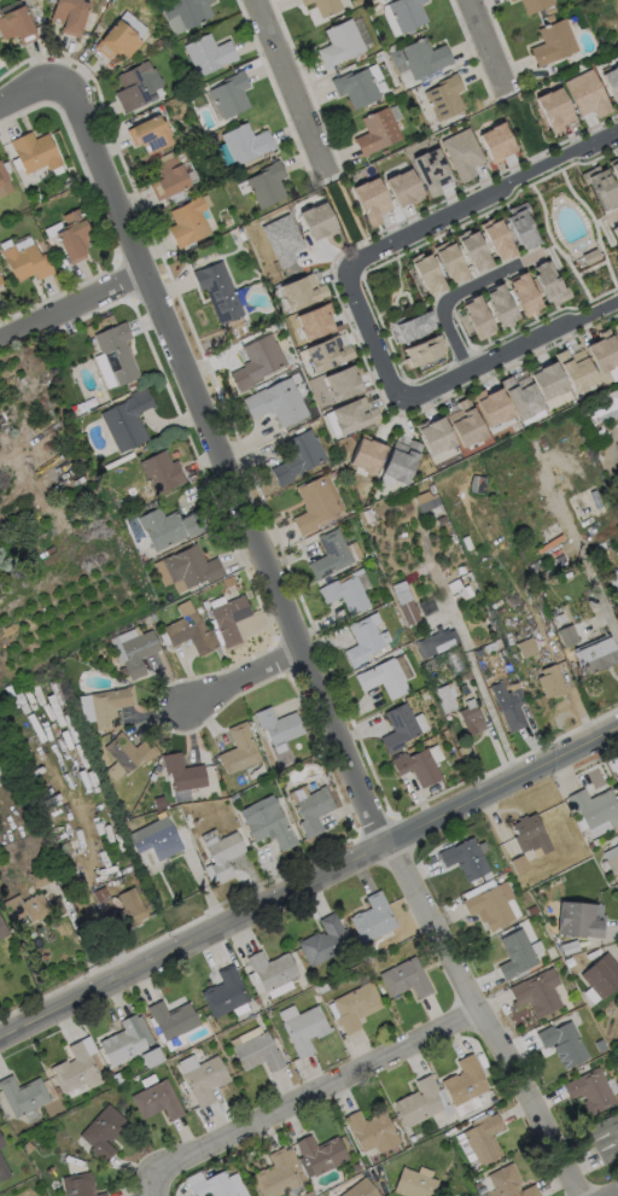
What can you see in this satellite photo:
building: (511, 0)
building: (514, 0)
building: (535, 5)
building: (323, 6)
building: (185, 11)
building: (404, 13)
building: (68, 14)
building: (16, 25)
building: (119, 35)
building: (552, 42)
building: (339, 45)
road: (491, 45)
building: (208, 52)
building: (419, 57)
building: (610, 81)
building: (135, 84)
building: (354, 87)
road: (296, 88)
road: (30, 91)
building: (229, 93)
building: (584, 93)
building: (443, 97)
building: (553, 109)
building: (374, 132)
building: (148, 133)
building: (244, 141)
building: (495, 141)
building: (31, 151)
building: (460, 152)
building: (613, 167)
building: (428, 169)
building: (2, 174)
building: (170, 174)
building: (266, 183)
building: (599, 186)
building: (401, 187)
road: (479, 198)
building: (369, 199)
building: (316, 220)
building: (186, 221)
building: (520, 228)
building: (614, 231)
building: (71, 234)
building: (281, 238)
building: (497, 239)
building: (473, 251)
building: (24, 262)
building: (450, 262)
building: (427, 273)
building: (0, 281)
building: (548, 281)
building: (0, 282)
building: (216, 290)
building: (302, 290)
building: (523, 294)
road: (71, 304)
road: (444, 304)
building: (500, 304)
building: (477, 316)
building: (313, 321)
building: (410, 325)
building: (616, 329)
road: (371, 336)
building: (422, 350)
road: (509, 351)
building: (113, 352)
building: (325, 352)
building: (601, 352)
building: (255, 361)
building: (573, 368)
building: (547, 380)
building: (340, 383)
building: (519, 396)
building: (274, 402)
building: (490, 407)
building: (352, 414)
building: (126, 420)
building: (465, 424)
building: (433, 436)
building: (365, 455)
building: (296, 456)
building: (398, 460)
building: (159, 471)
building: (425, 501)
building: (311, 504)
building: (165, 526)
building: (328, 554)
building: (188, 567)
building: (613, 585)
road: (594, 587)
building: (345, 591)
building: (404, 603)
building: (227, 618)
building: (188, 632)
building: (360, 641)
building: (435, 642)
building: (525, 647)
road: (299, 649)
building: (135, 653)
building: (594, 655)
building: (384, 676)
road: (246, 679)
building: (548, 682)
road: (480, 689)
building: (444, 698)
building: (107, 706)
building: (507, 706)
building: (470, 719)
building: (276, 725)
building: (396, 728)
building: (237, 749)
building: (127, 751)
building: (415, 766)
building: (181, 772)
building: (594, 806)
building: (311, 810)
building: (266, 822)
building: (527, 834)
building: (154, 838)
building: (222, 856)
building: (462, 858)
building: (612, 865)
road: (308, 880)
building: (488, 905)
building: (25, 908)
building: (128, 908)
building: (369, 918)
building: (578, 920)
building: (1, 930)
building: (322, 940)
building: (513, 953)
building: (270, 973)
building: (600, 975)
building: (403, 979)
building: (535, 992)
building: (223, 993)
building: (354, 1005)
building: (170, 1023)
building: (303, 1029)
building: (126, 1040)
building: (561, 1043)
building: (253, 1049)
building: (77, 1066)
building: (204, 1079)
building: (462, 1081)
building: (589, 1091)
road: (316, 1092)
building: (22, 1095)
building: (156, 1101)
building: (419, 1102)
building: (369, 1131)
building: (101, 1132)
building: (482, 1137)
building: (604, 1137)
building: (1, 1143)
building: (319, 1154)
building: (2, 1169)
building: (274, 1175)
building: (507, 1183)
building: (412, 1184)
building: (77, 1185)
road: (161, 1185)
building: (211, 1186)
building: (358, 1189)
road: (614, 1194)
building: (462, 1195)

